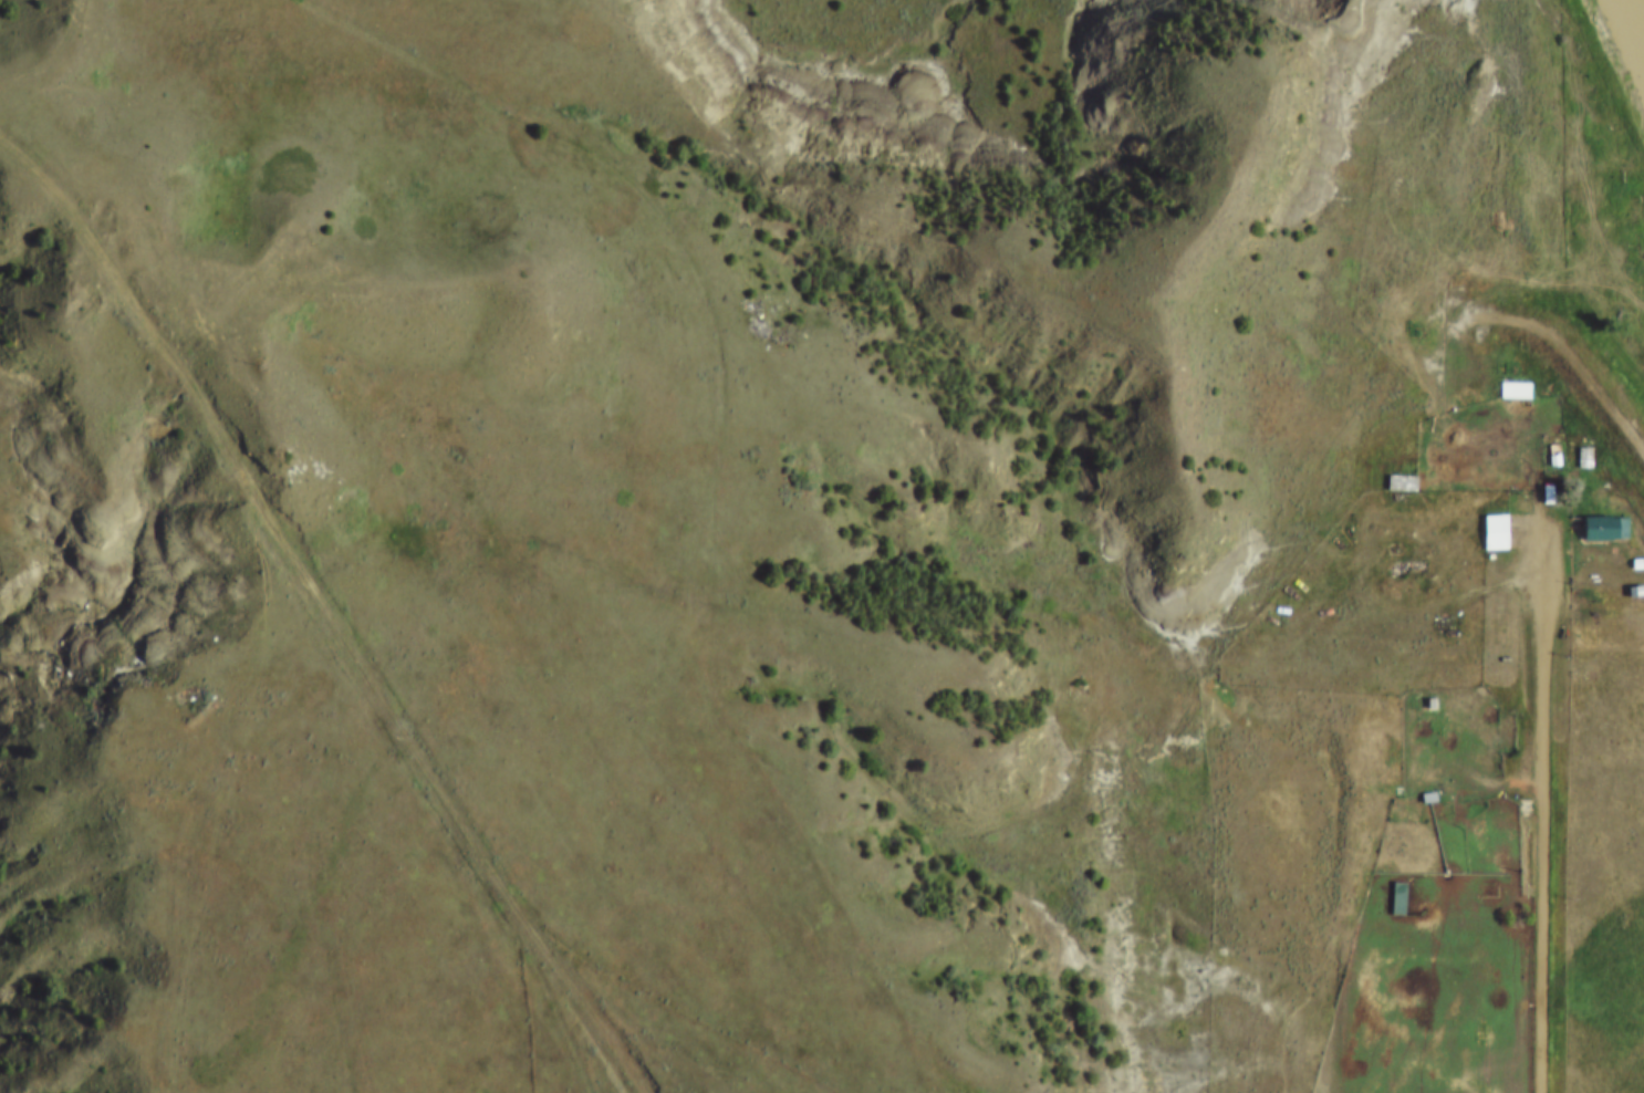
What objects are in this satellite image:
building: (1508, 375)
building: (1515, 392)
building: (1579, 444)
building: (1548, 446)
building: (1394, 468)
building: (1540, 479)
building: (1402, 483)
building: (1598, 512)
building: (1488, 518)
building: (1605, 529)
building: (1496, 533)
building: (1630, 550)
building: (1630, 575)
building: (1641, 603)
road: (327, 608)
building: (1631, 632)
building: (1424, 688)
building: (1487, 745)
building: (1421, 783)
road: (1540, 808)
building: (1392, 883)
building: (1393, 896)

